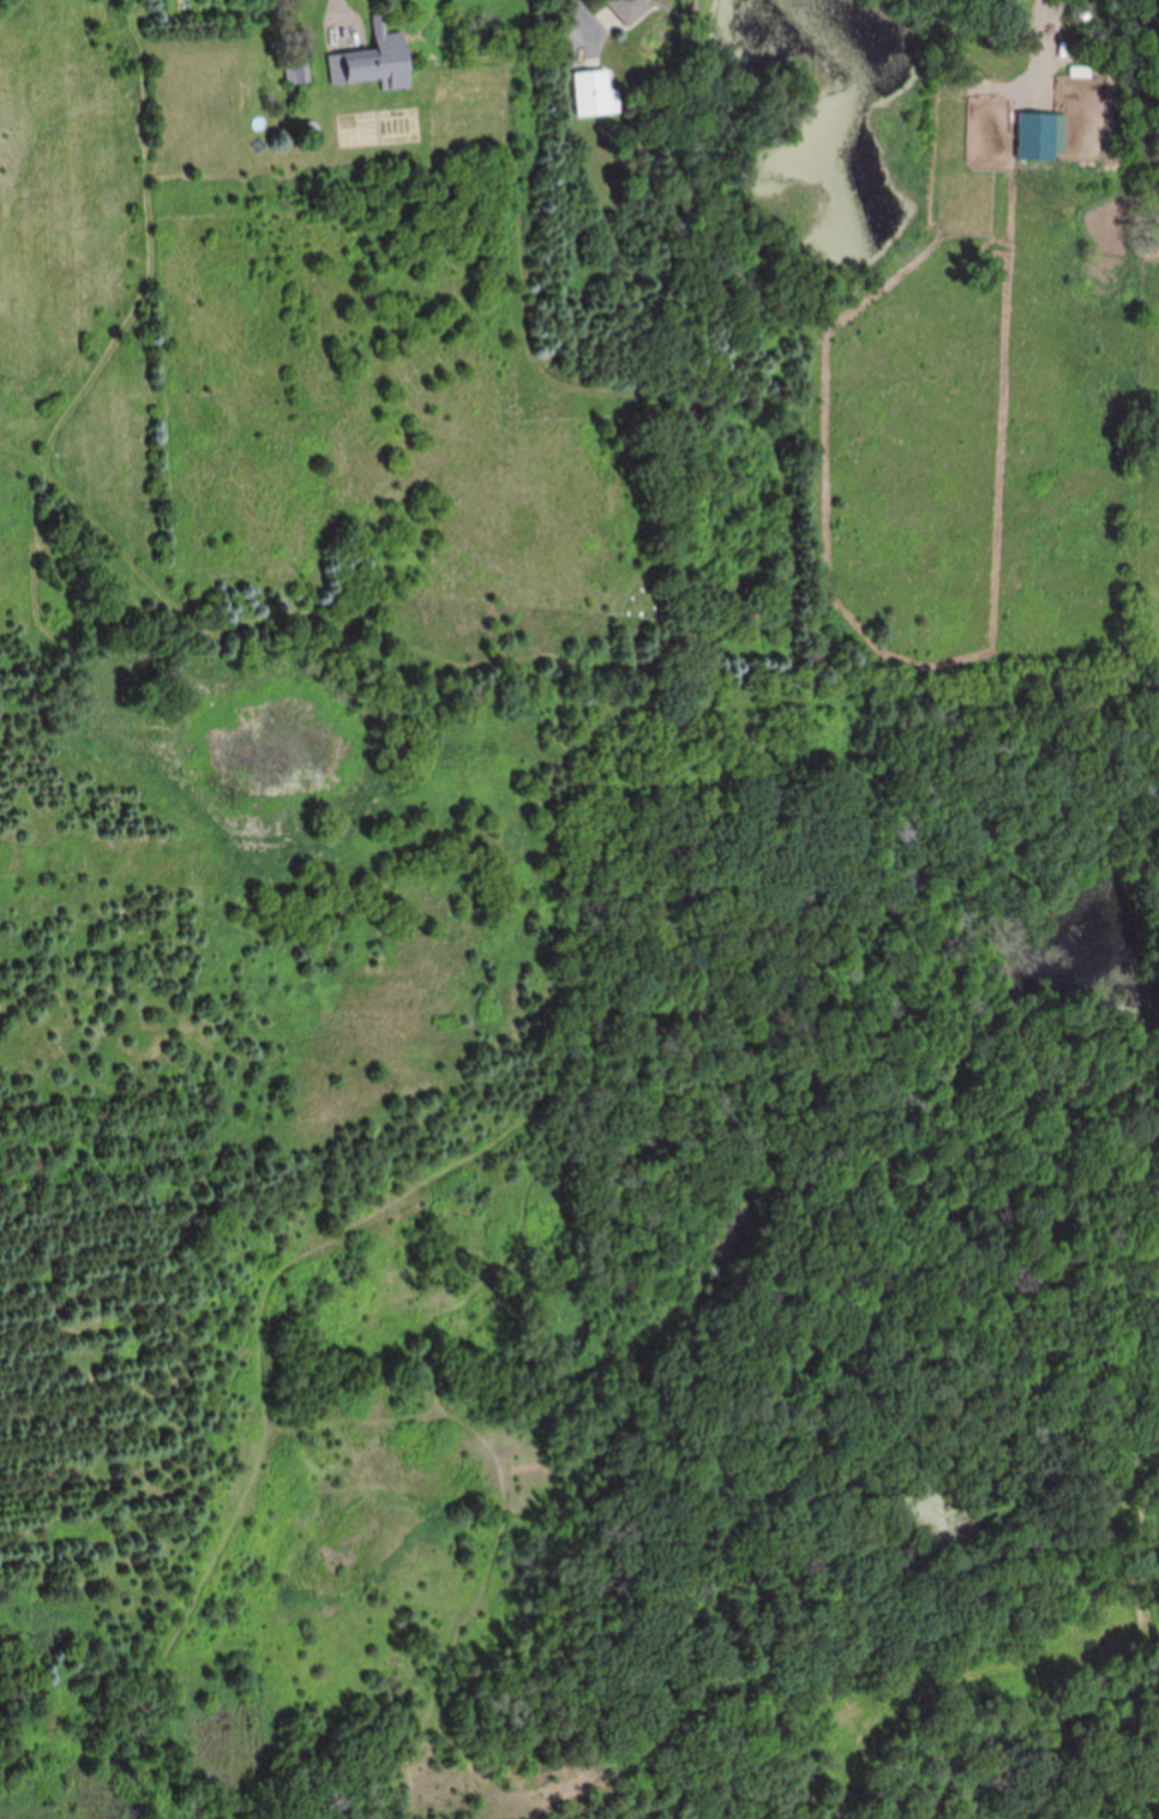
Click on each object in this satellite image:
building: (627, 10)
road: (336, 12)
building: (376, 62)
building: (295, 73)
building: (595, 94)
building: (1037, 136)

